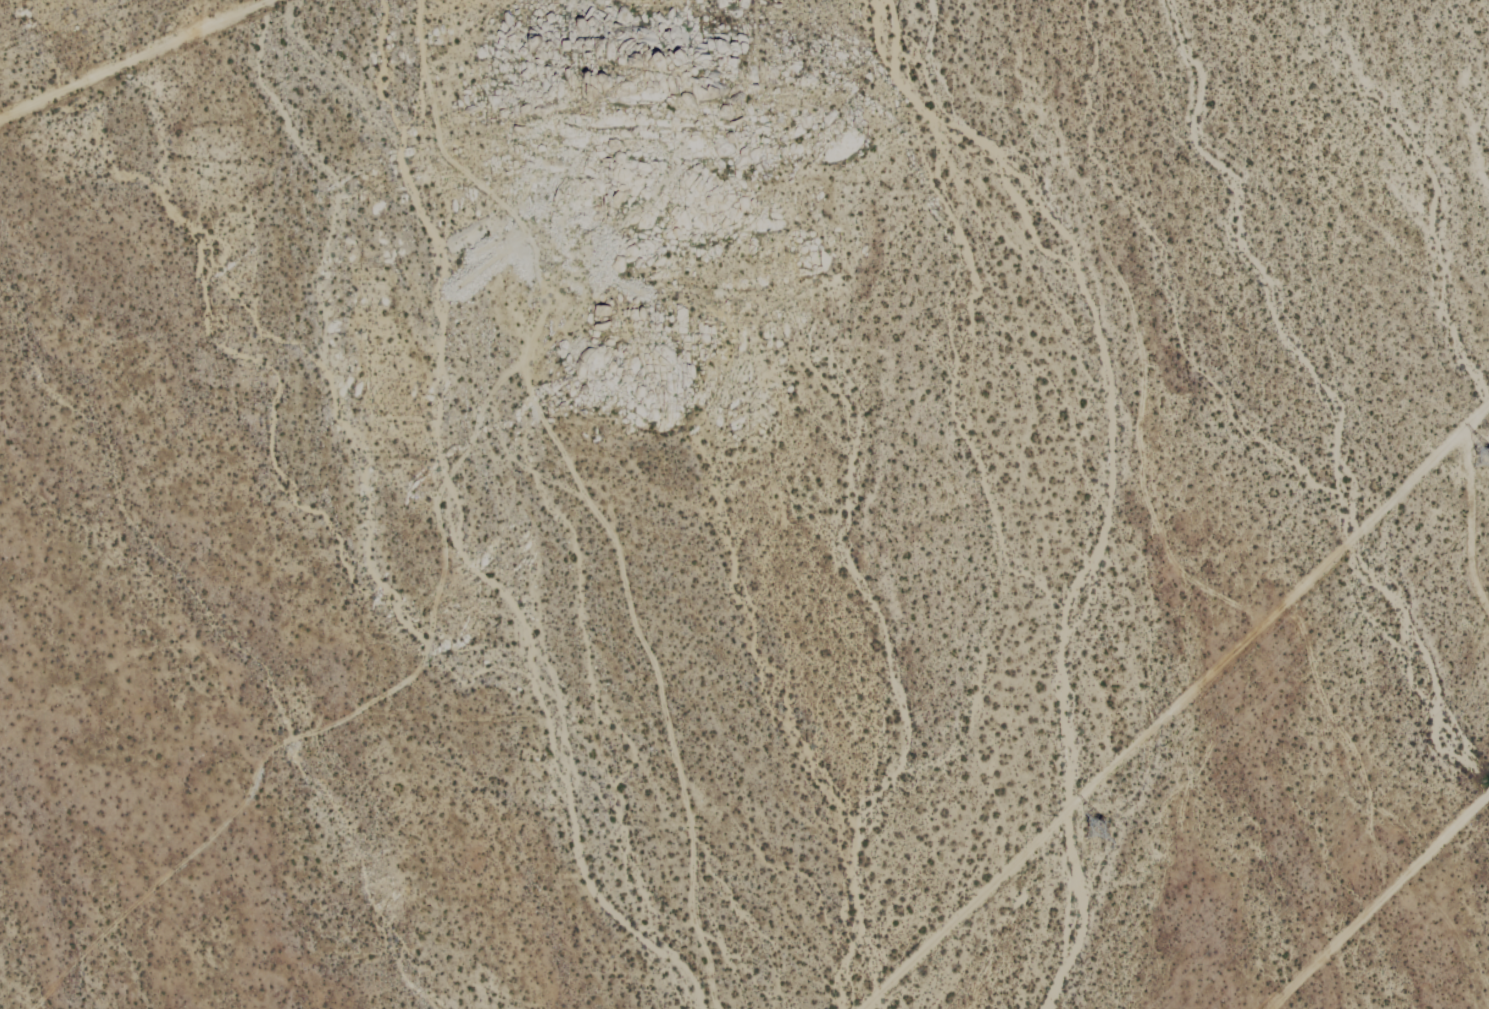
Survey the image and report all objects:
road: (136, 59)
power tower: (1471, 458)
power tower: (1091, 819)
road: (1373, 899)

